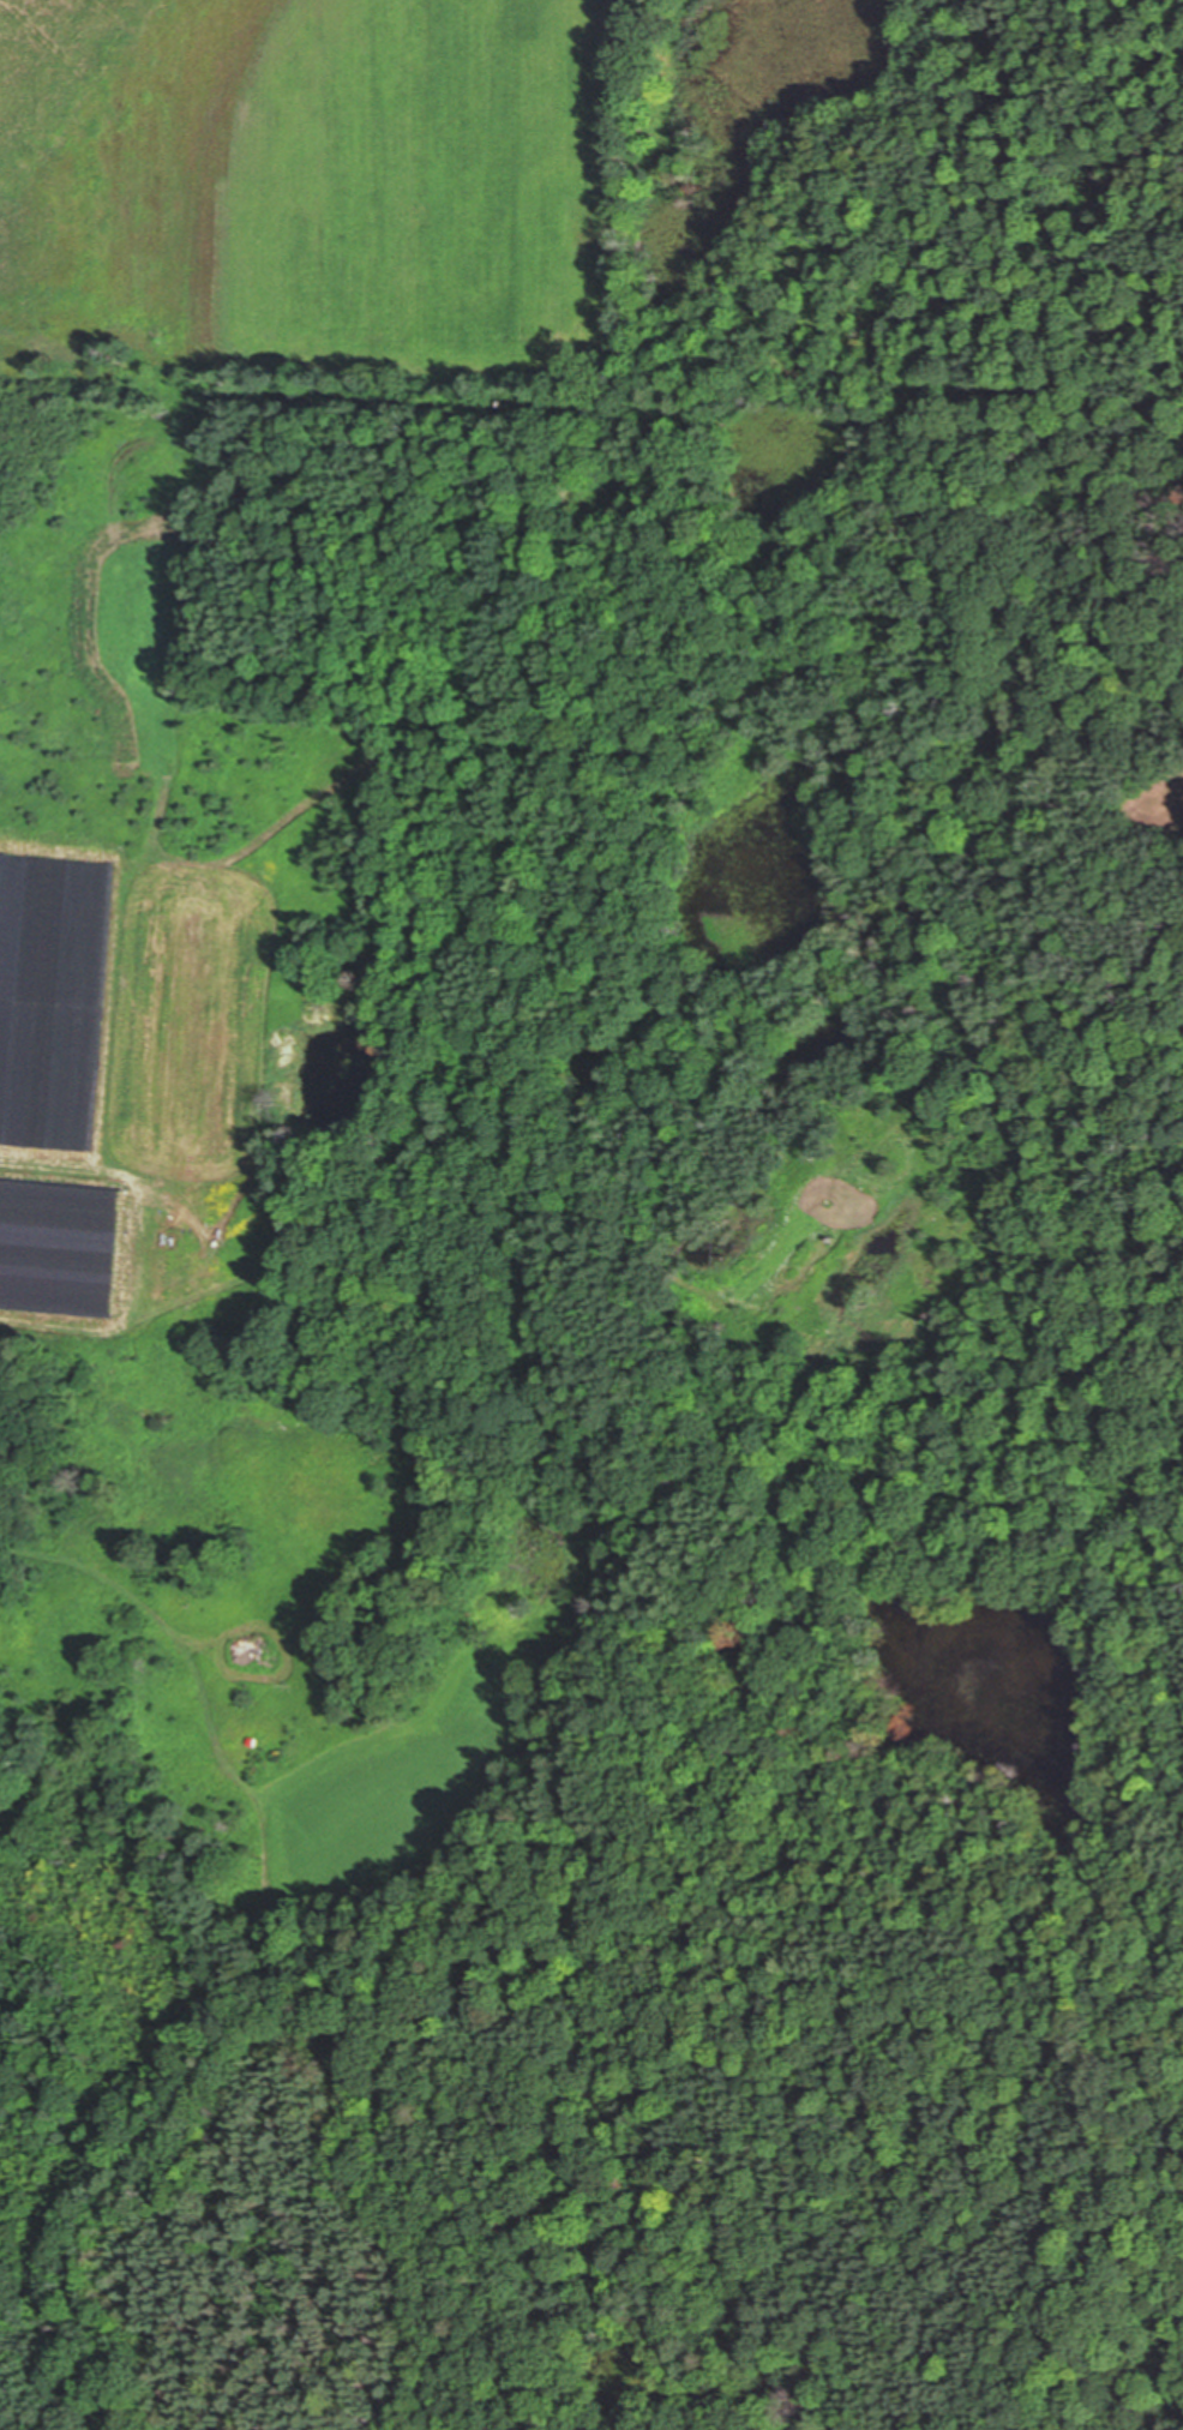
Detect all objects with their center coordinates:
crop: (97, 632)
crop: (7, 1583)
road: (1160, 2416)

